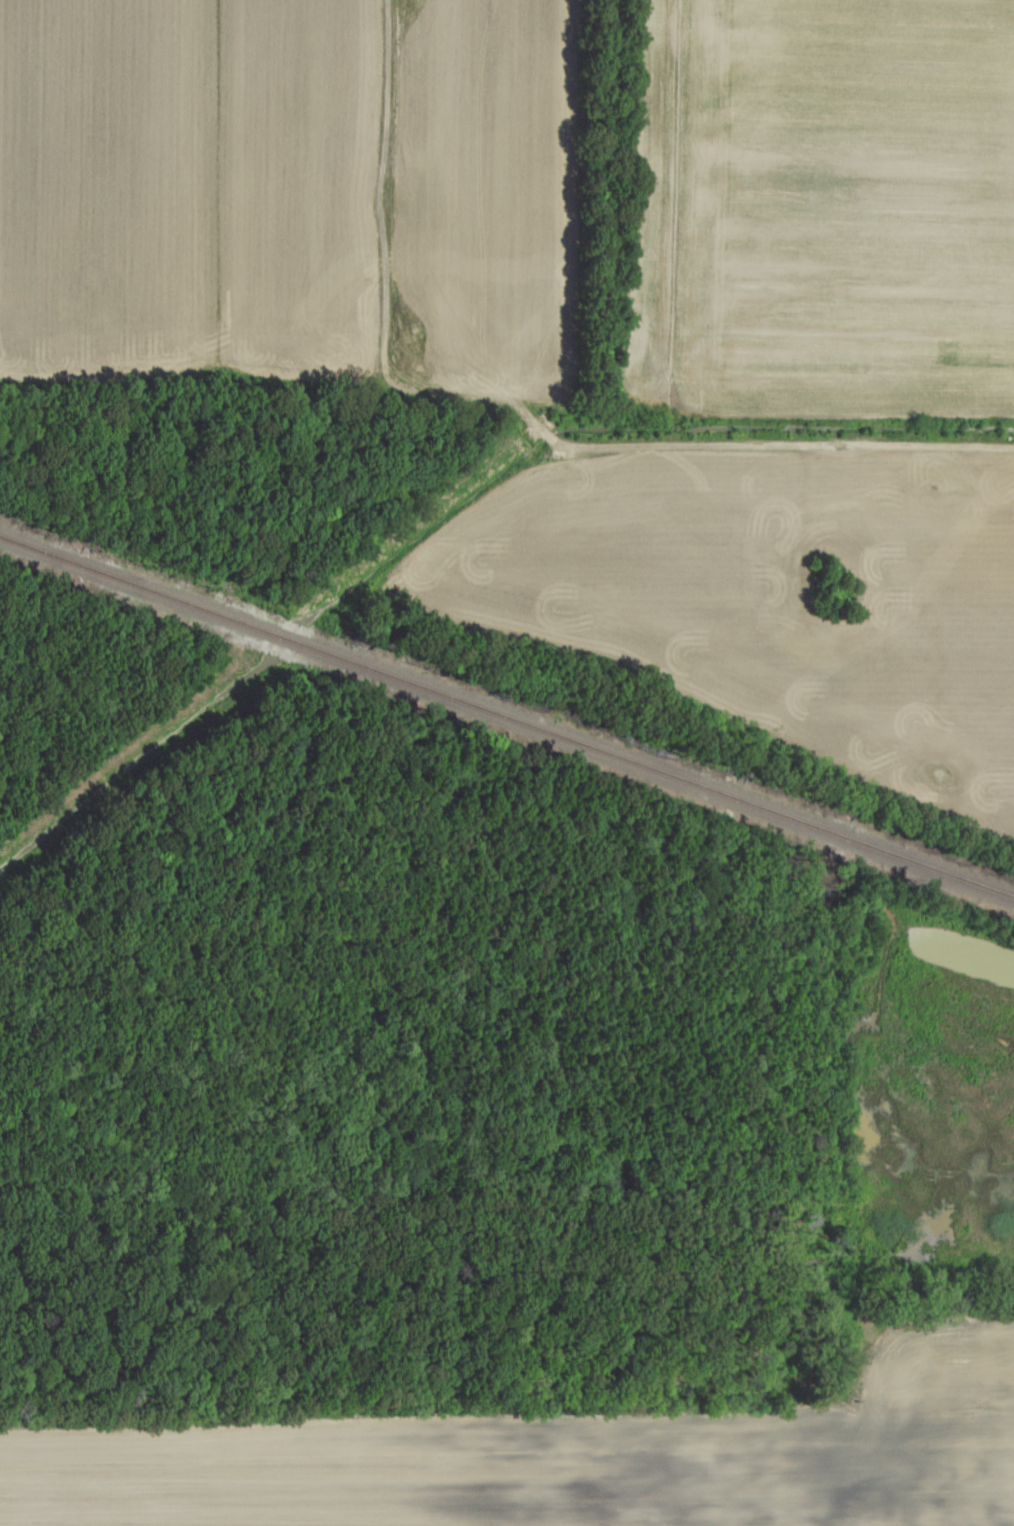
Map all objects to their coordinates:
road: (379, 192)
road: (512, 406)
railway: (507, 714)

